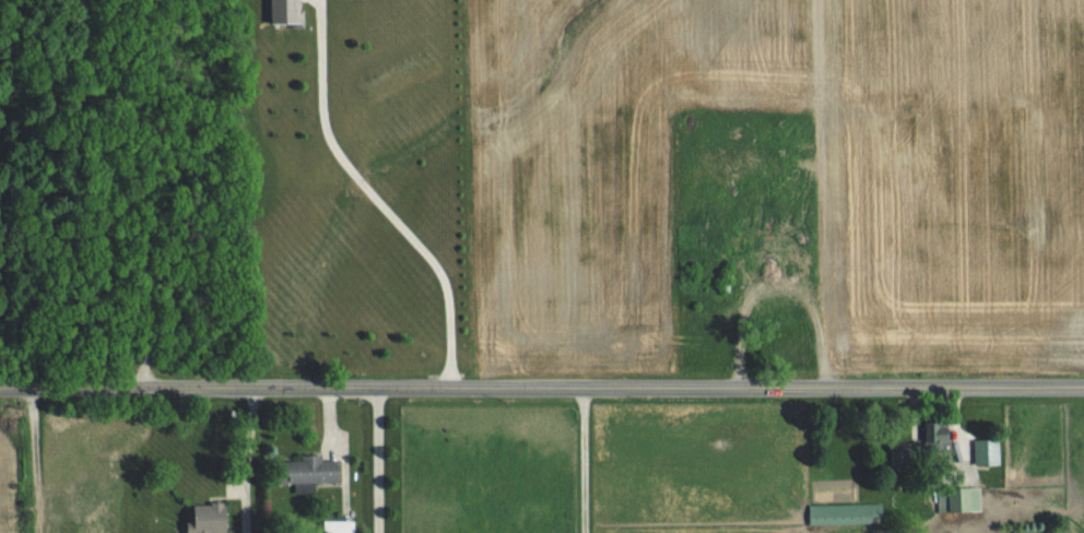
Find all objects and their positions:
building: (287, 11)
road: (123, 192)
road: (378, 196)
road: (542, 384)
road: (249, 443)
building: (923, 448)
building: (989, 451)
road: (377, 459)
building: (309, 472)
building: (942, 494)
building: (974, 498)
building: (846, 513)
building: (210, 518)
building: (340, 526)

